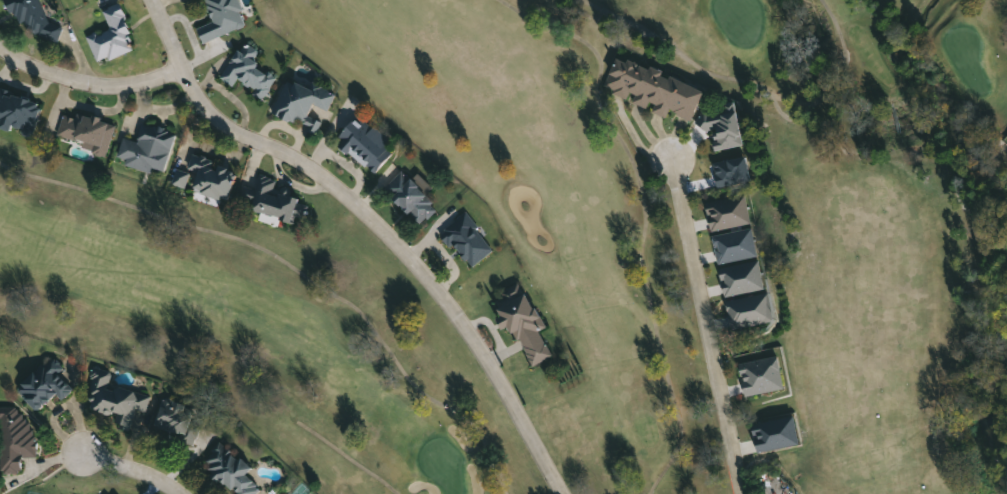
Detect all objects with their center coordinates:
building: (34, 17)
building: (222, 18)
building: (112, 34)
building: (249, 70)
road: (88, 82)
building: (652, 88)
building: (302, 100)
building: (18, 111)
building: (721, 125)
building: (86, 130)
building: (365, 142)
building: (148, 147)
building: (731, 171)
building: (206, 176)
building: (415, 197)
building: (276, 201)
building: (727, 213)
road: (375, 223)
building: (467, 239)
building: (733, 245)
park: (603, 252)
park: (893, 270)
building: (740, 278)
building: (749, 311)
building: (522, 320)
park: (252, 327)
road: (709, 328)
building: (760, 376)
building: (45, 382)
building: (115, 396)
building: (177, 419)
building: (774, 434)
building: (15, 437)
road: (132, 469)
building: (230, 469)
building: (774, 486)
park: (0, 493)

